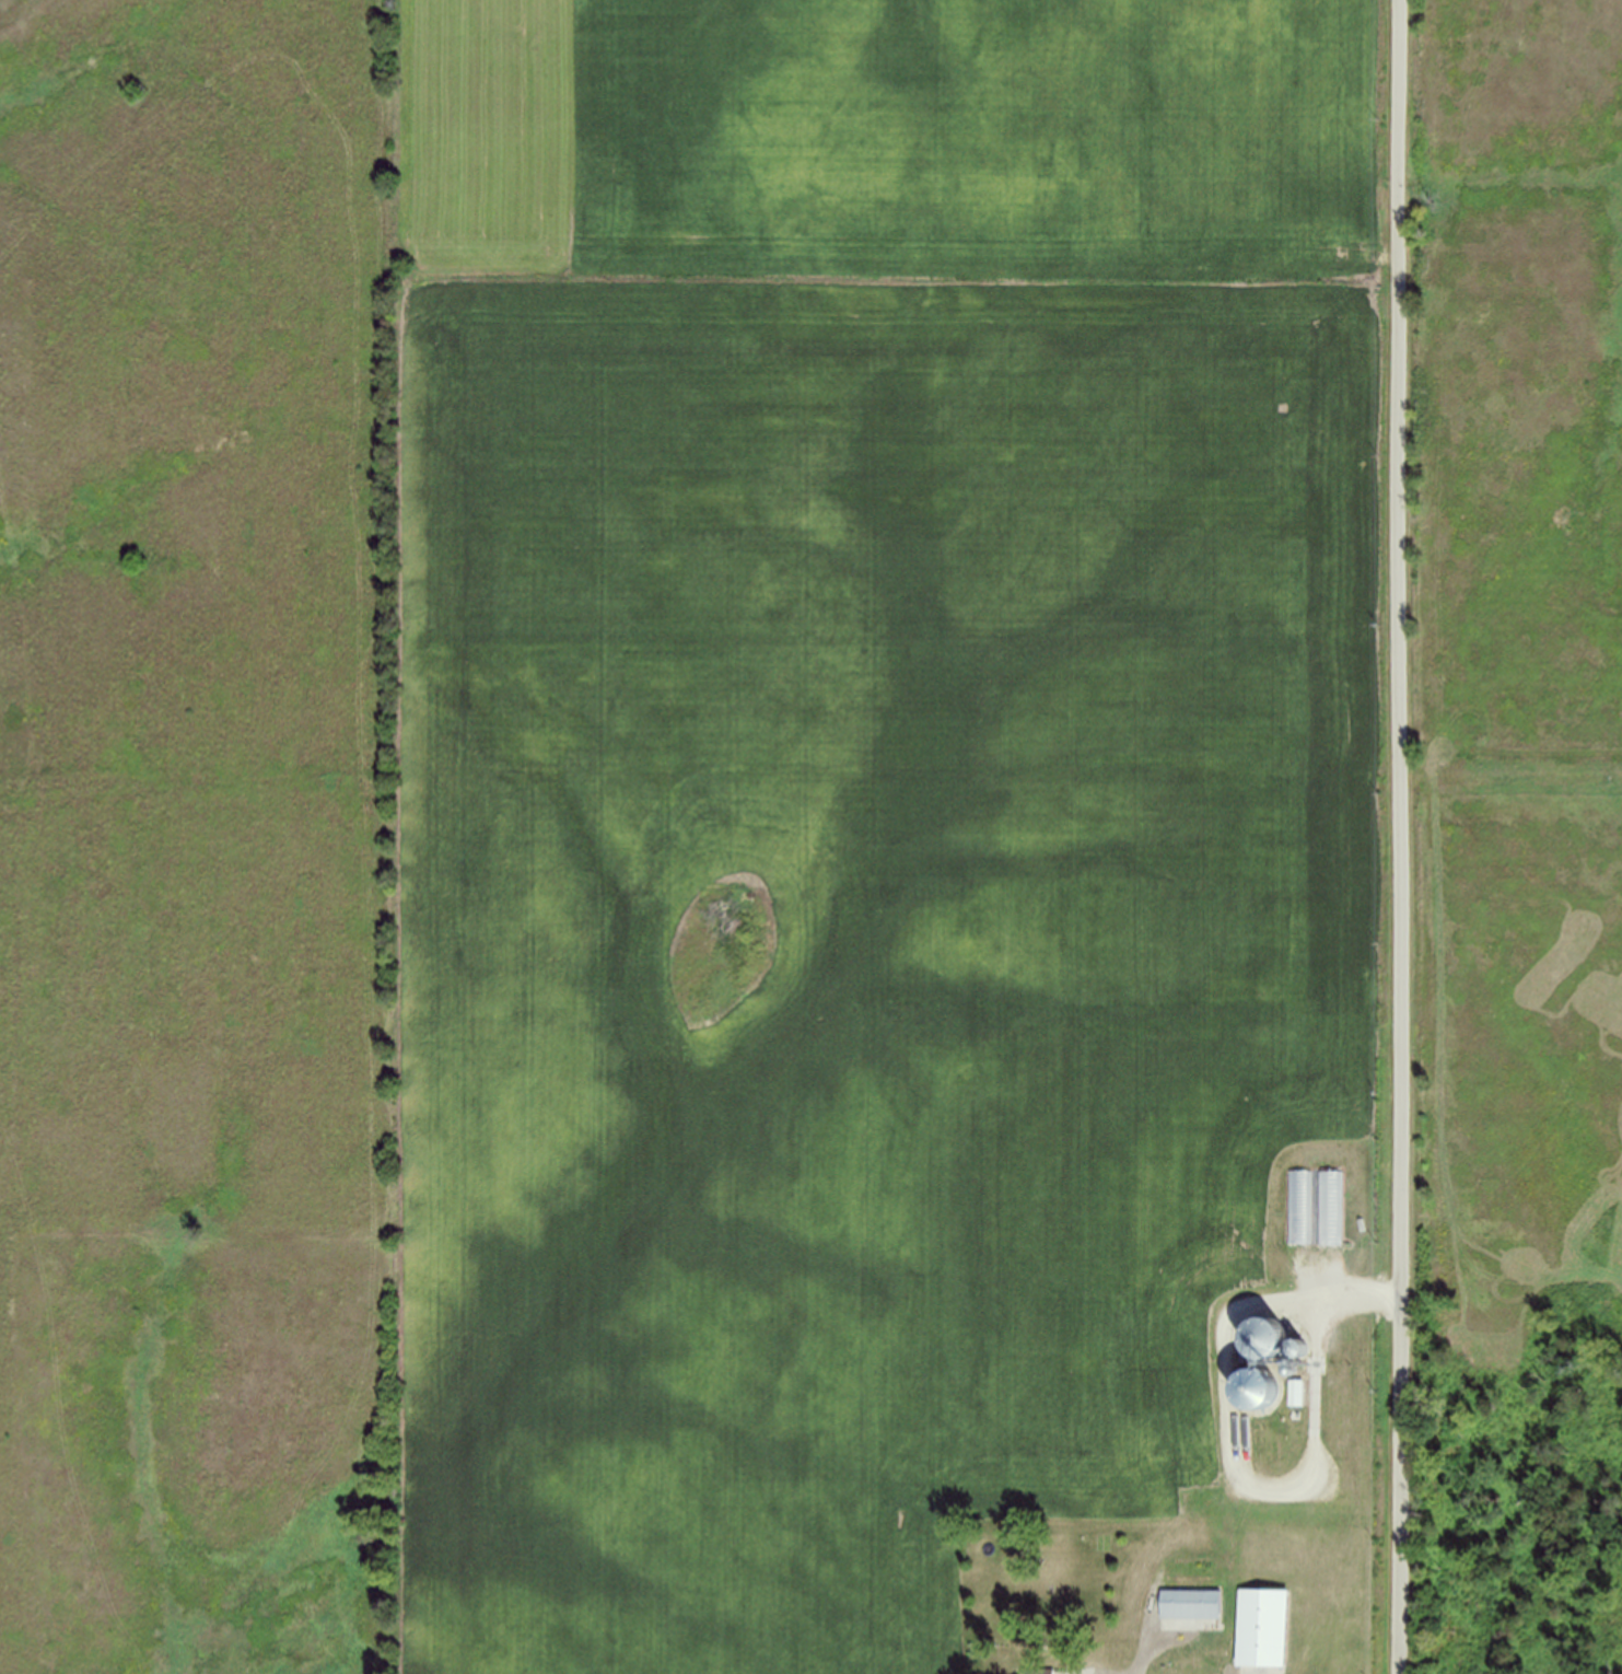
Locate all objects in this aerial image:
road: (1403, 836)
building: (1188, 1568)
building: (1192, 1604)
building: (1261, 1628)
road: (1147, 1646)
building: (1039, 1671)

